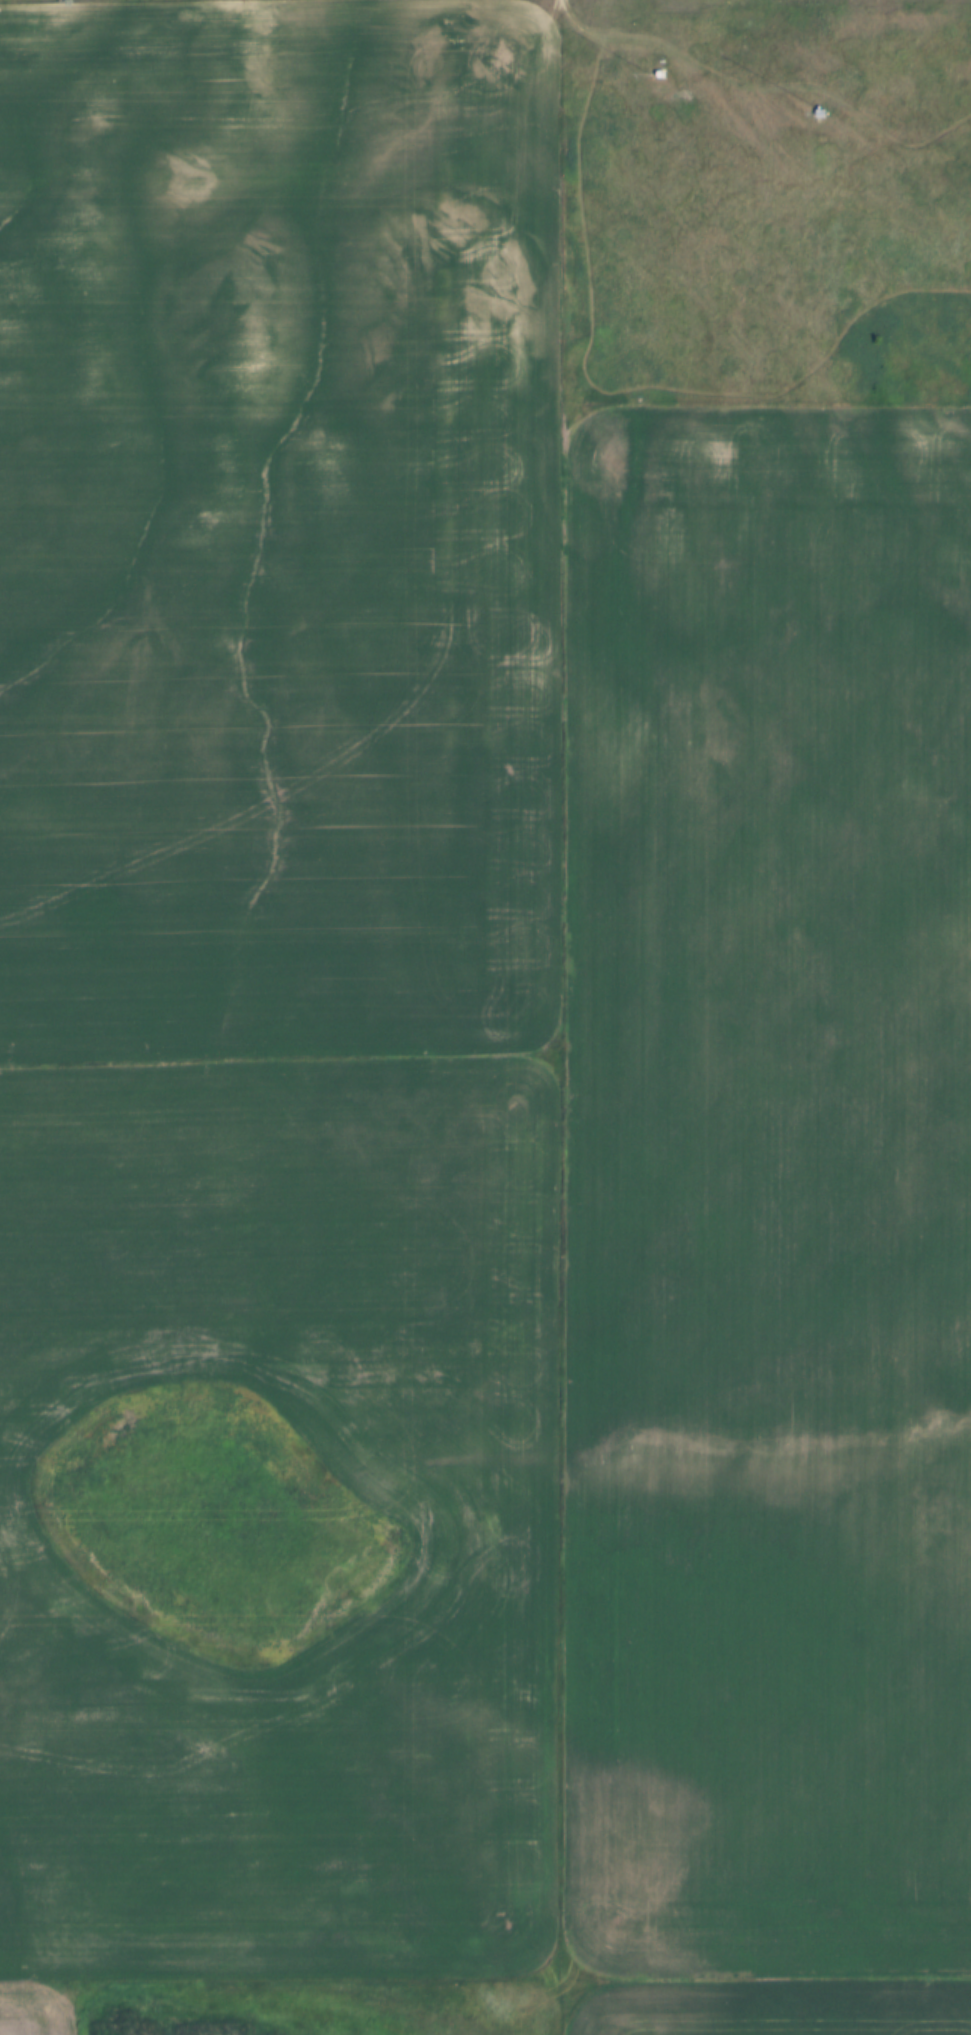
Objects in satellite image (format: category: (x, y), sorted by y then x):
storage tank: (657, 61)
building: (655, 74)
building: (814, 113)
road: (485, 1976)

